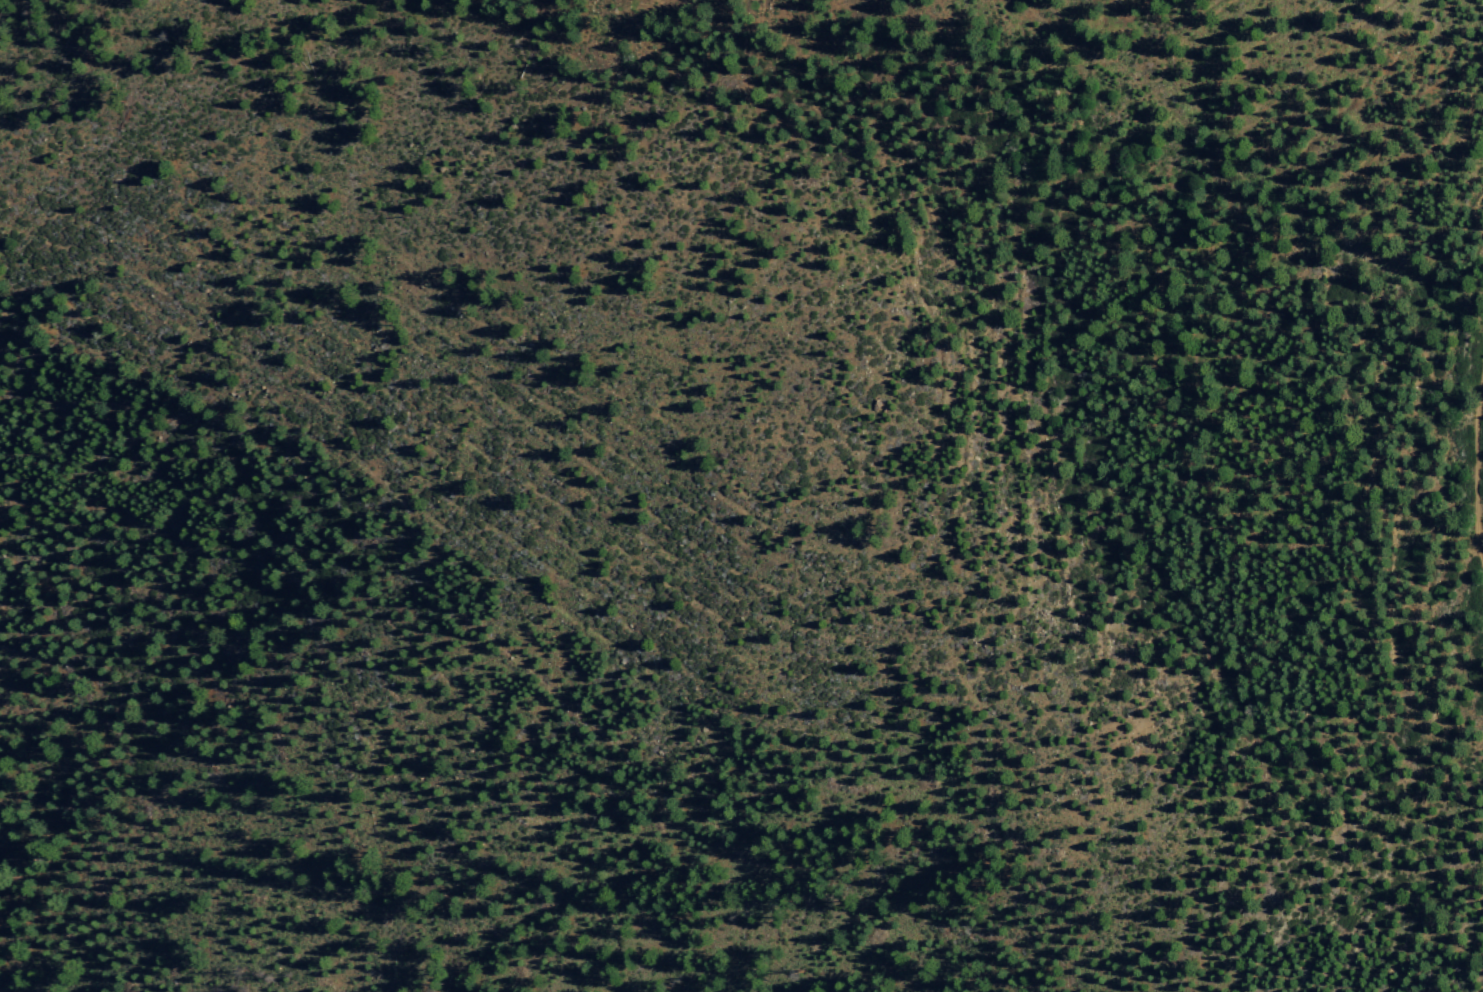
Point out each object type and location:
road: (1480, 469)

